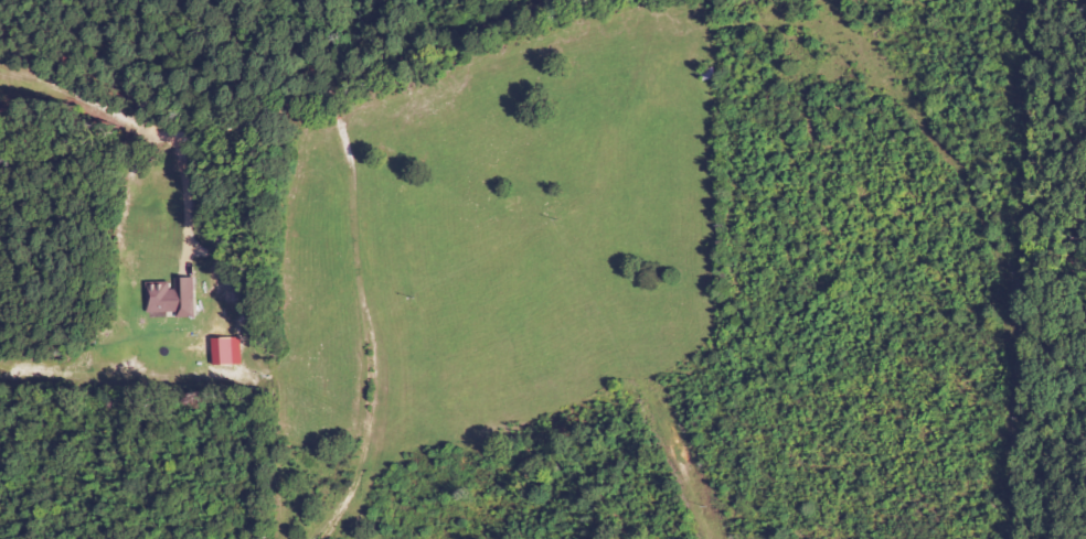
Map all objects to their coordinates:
road: (109, 97)
road: (88, 206)
road: (364, 315)

